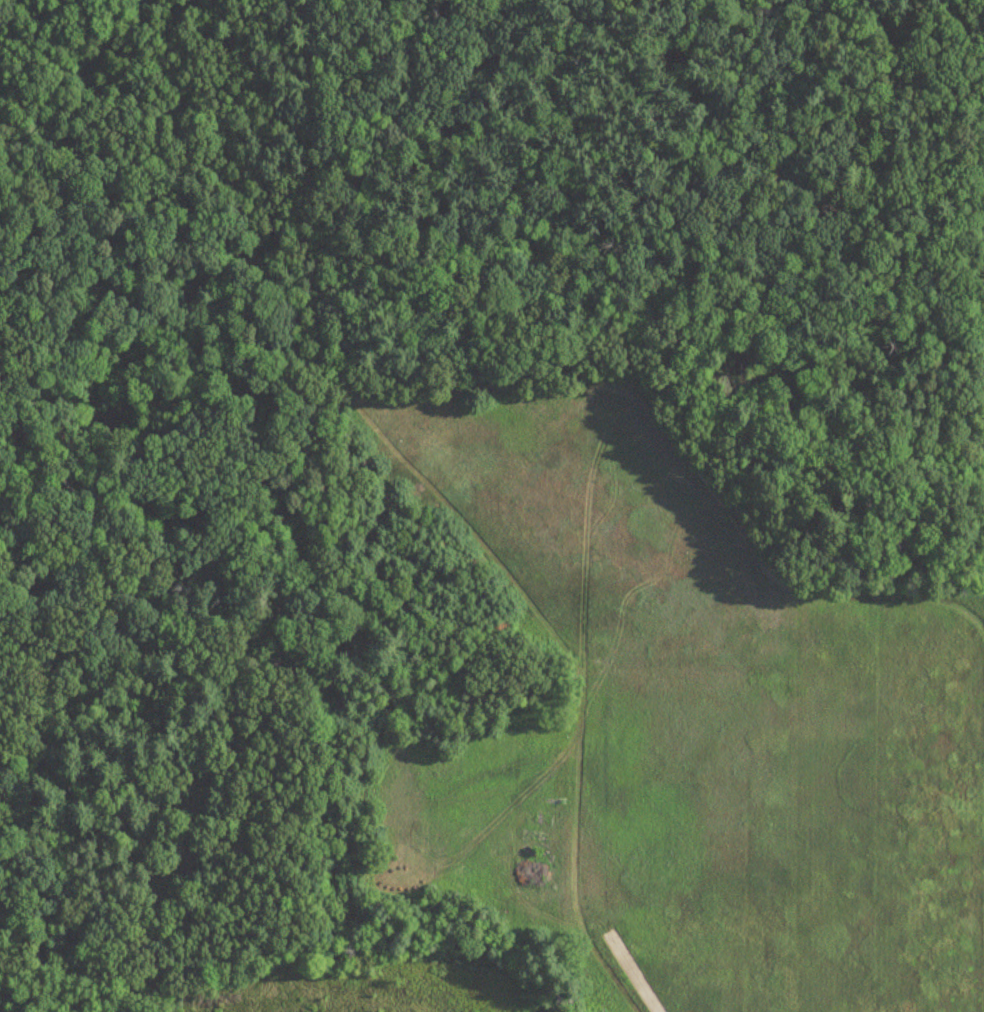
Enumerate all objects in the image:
crop: (729, 718)

